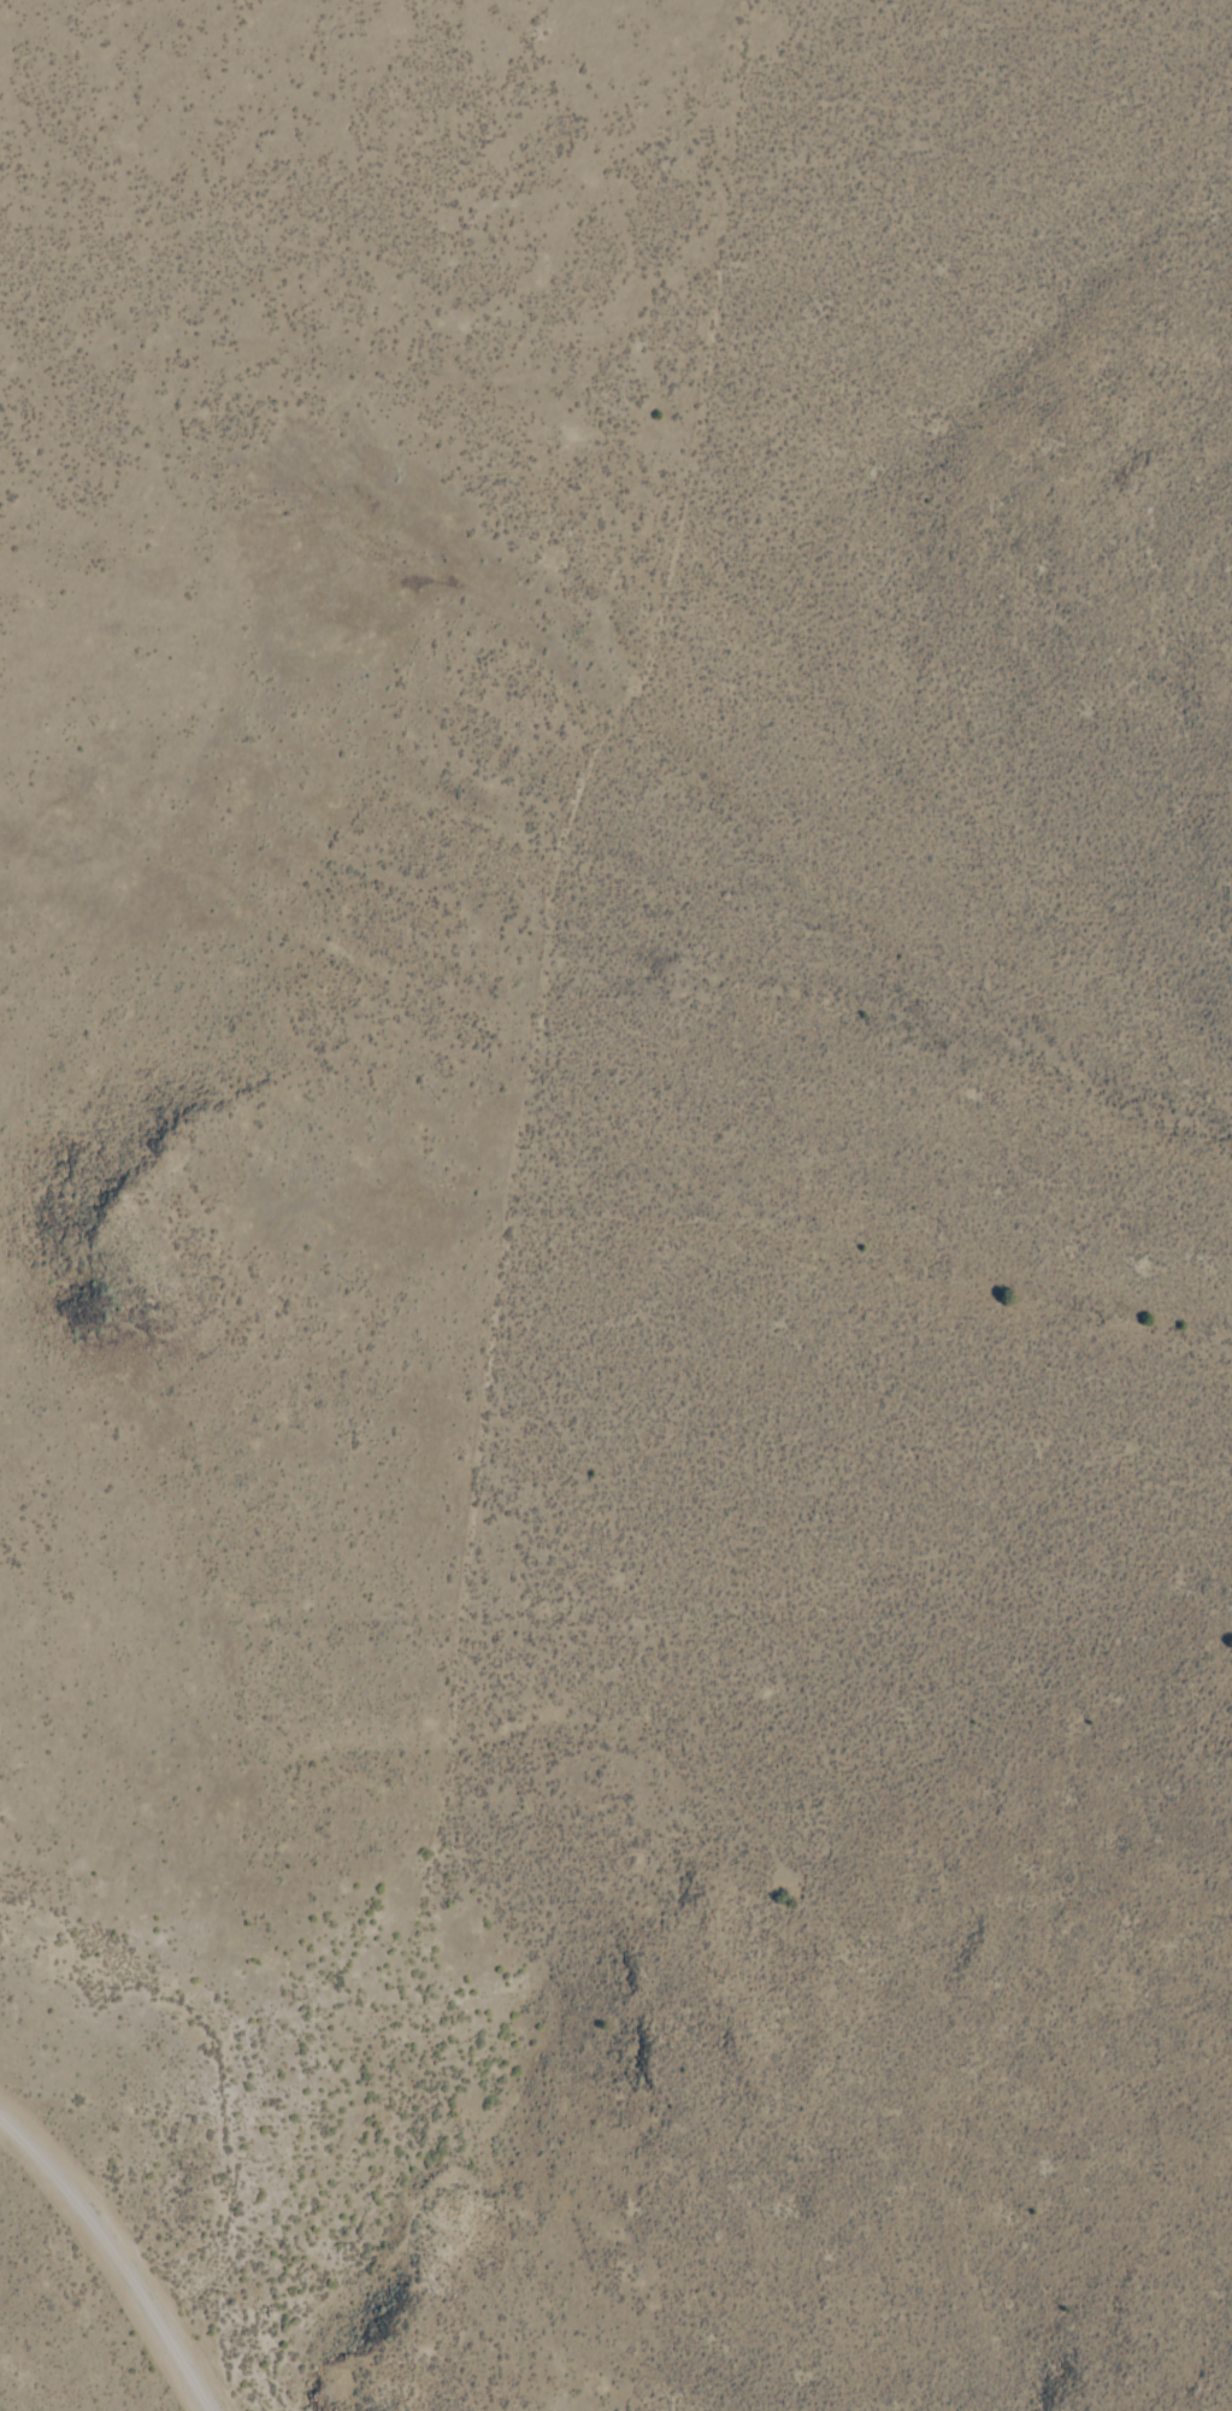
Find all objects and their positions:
road: (122, 2257)

